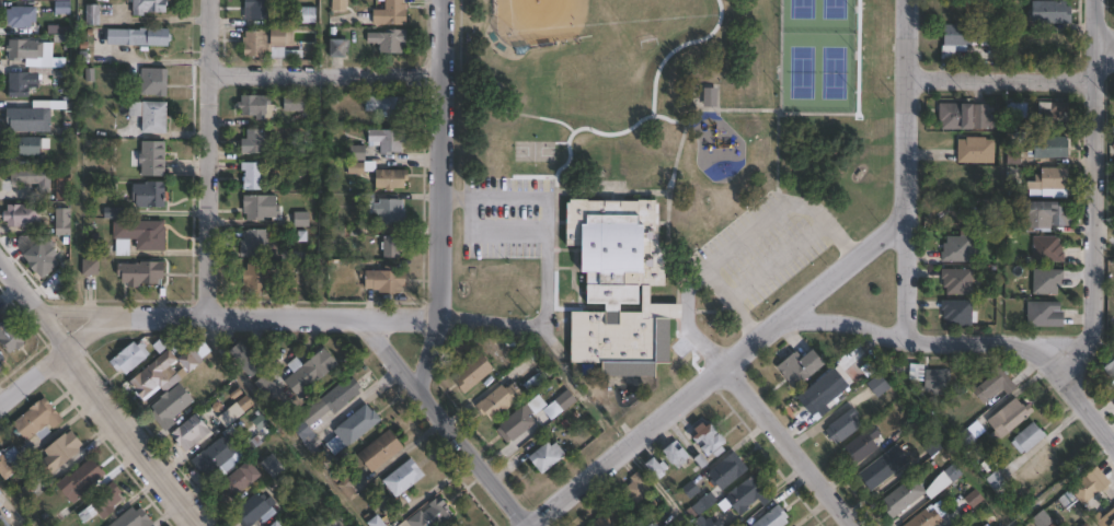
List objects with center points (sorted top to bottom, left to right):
building: (61, 5)
building: (151, 7)
building: (259, 10)
building: (1047, 11)
building: (391, 14)
building: (95, 15)
building: (299, 15)
building: (23, 17)
park: (540, 20)
building: (963, 36)
building: (141, 38)
road: (1105, 38)
building: (389, 42)
building: (271, 45)
building: (1057, 47)
building: (338, 49)
building: (32, 50)
park: (815, 55)
road: (325, 72)
road: (1001, 79)
building: (27, 80)
building: (157, 82)
building: (708, 95)
road: (861, 96)
building: (297, 102)
building: (256, 105)
building: (388, 106)
building: (1017, 109)
building: (1052, 113)
building: (152, 115)
building: (953, 115)
building: (33, 117)
building: (980, 117)
road: (572, 122)
building: (1112, 131)
building: (388, 139)
building: (253, 141)
building: (30, 144)
building: (1048, 147)
building: (974, 150)
building: (355, 151)
park: (533, 151)
building: (1113, 151)
road: (657, 153)
building: (1012, 154)
building: (153, 157)
road: (205, 157)
road: (777, 161)
building: (360, 166)
road: (905, 168)
park: (659, 172)
road: (1098, 174)
building: (34, 175)
building: (252, 175)
building: (391, 178)
building: (1013, 180)
building: (1048, 182)
building: (151, 194)
road: (439, 197)
building: (261, 207)
road: (667, 208)
building: (389, 211)
building: (115, 212)
building: (23, 214)
building: (1042, 214)
road: (555, 217)
parking lot: (507, 218)
building: (301, 219)
building: (65, 223)
road: (544, 229)
road: (492, 234)
building: (140, 235)
building: (254, 243)
building: (391, 245)
road: (735, 246)
building: (948, 246)
parking lot: (763, 247)
road: (574, 248)
building: (1046, 249)
building: (42, 253)
road: (777, 260)
building: (93, 266)
building: (142, 272)
building: (257, 278)
building: (387, 280)
building: (618, 281)
building: (955, 281)
building: (1045, 281)
building: (288, 289)
road: (733, 304)
road: (710, 311)
building: (955, 312)
building: (1042, 314)
road: (292, 316)
building: (13, 335)
road: (937, 342)
building: (197, 355)
building: (133, 356)
building: (1, 359)
building: (250, 359)
building: (1107, 364)
building: (796, 367)
building: (312, 372)
building: (476, 372)
road: (717, 373)
road: (32, 374)
building: (160, 375)
building: (934, 379)
building: (536, 384)
building: (990, 385)
building: (876, 386)
building: (273, 387)
building: (819, 393)
road: (102, 395)
building: (335, 399)
building: (503, 400)
road: (1080, 400)
building: (562, 405)
building: (172, 406)
building: (237, 410)
building: (1007, 417)
building: (37, 418)
road: (279, 422)
road: (443, 423)
building: (519, 423)
building: (840, 426)
building: (355, 429)
building: (193, 433)
building: (310, 437)
building: (964, 439)
building: (1025, 439)
building: (703, 441)
building: (859, 446)
building: (929, 446)
road: (788, 447)
building: (60, 449)
building: (383, 451)
building: (225, 455)
building: (549, 456)
building: (669, 456)
building: (10, 459)
building: (276, 466)
building: (652, 468)
building: (723, 471)
building: (876, 471)
building: (406, 478)
building: (81, 479)
building: (242, 479)
building: (995, 482)
building: (349, 488)
building: (634, 488)
building: (1082, 489)
building: (0, 490)
building: (919, 491)
building: (26, 492)
building: (744, 495)
building: (107, 499)
building: (0, 502)
building: (702, 503)
building: (257, 510)
building: (434, 514)
building: (770, 517)
building: (133, 518)
building: (1104, 518)
building: (922, 519)
building: (1040, 519)
building: (377, 521)
building: (602, 521)
building: (3, 522)
building: (702, 522)
building: (278, 523)
building: (650, 525)
building: (666, 525)
building: (984, 525)
building: (1082, 525)

